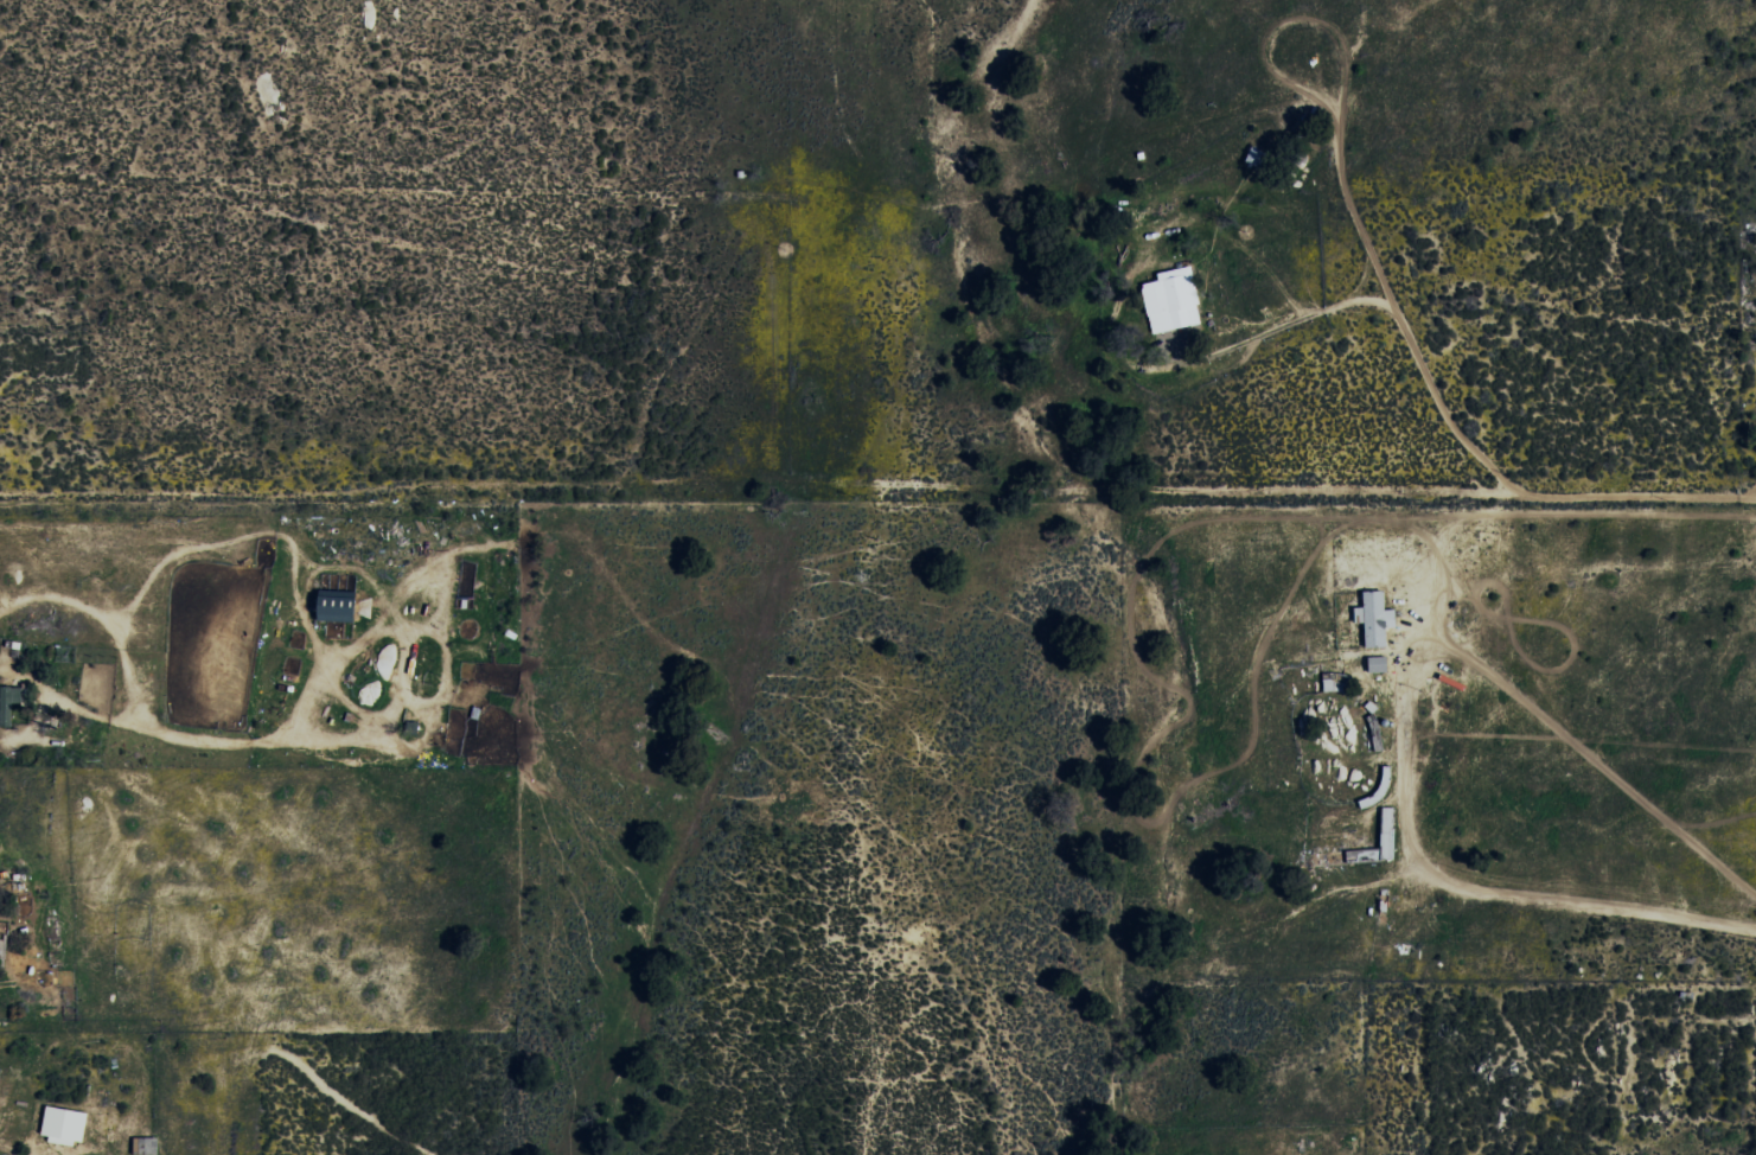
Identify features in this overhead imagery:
road: (1655, 251)
building: (1173, 300)
road: (877, 505)
building: (336, 606)
building: (1375, 618)
building: (1378, 664)
building: (9, 702)
building: (1387, 829)
building: (64, 1125)

